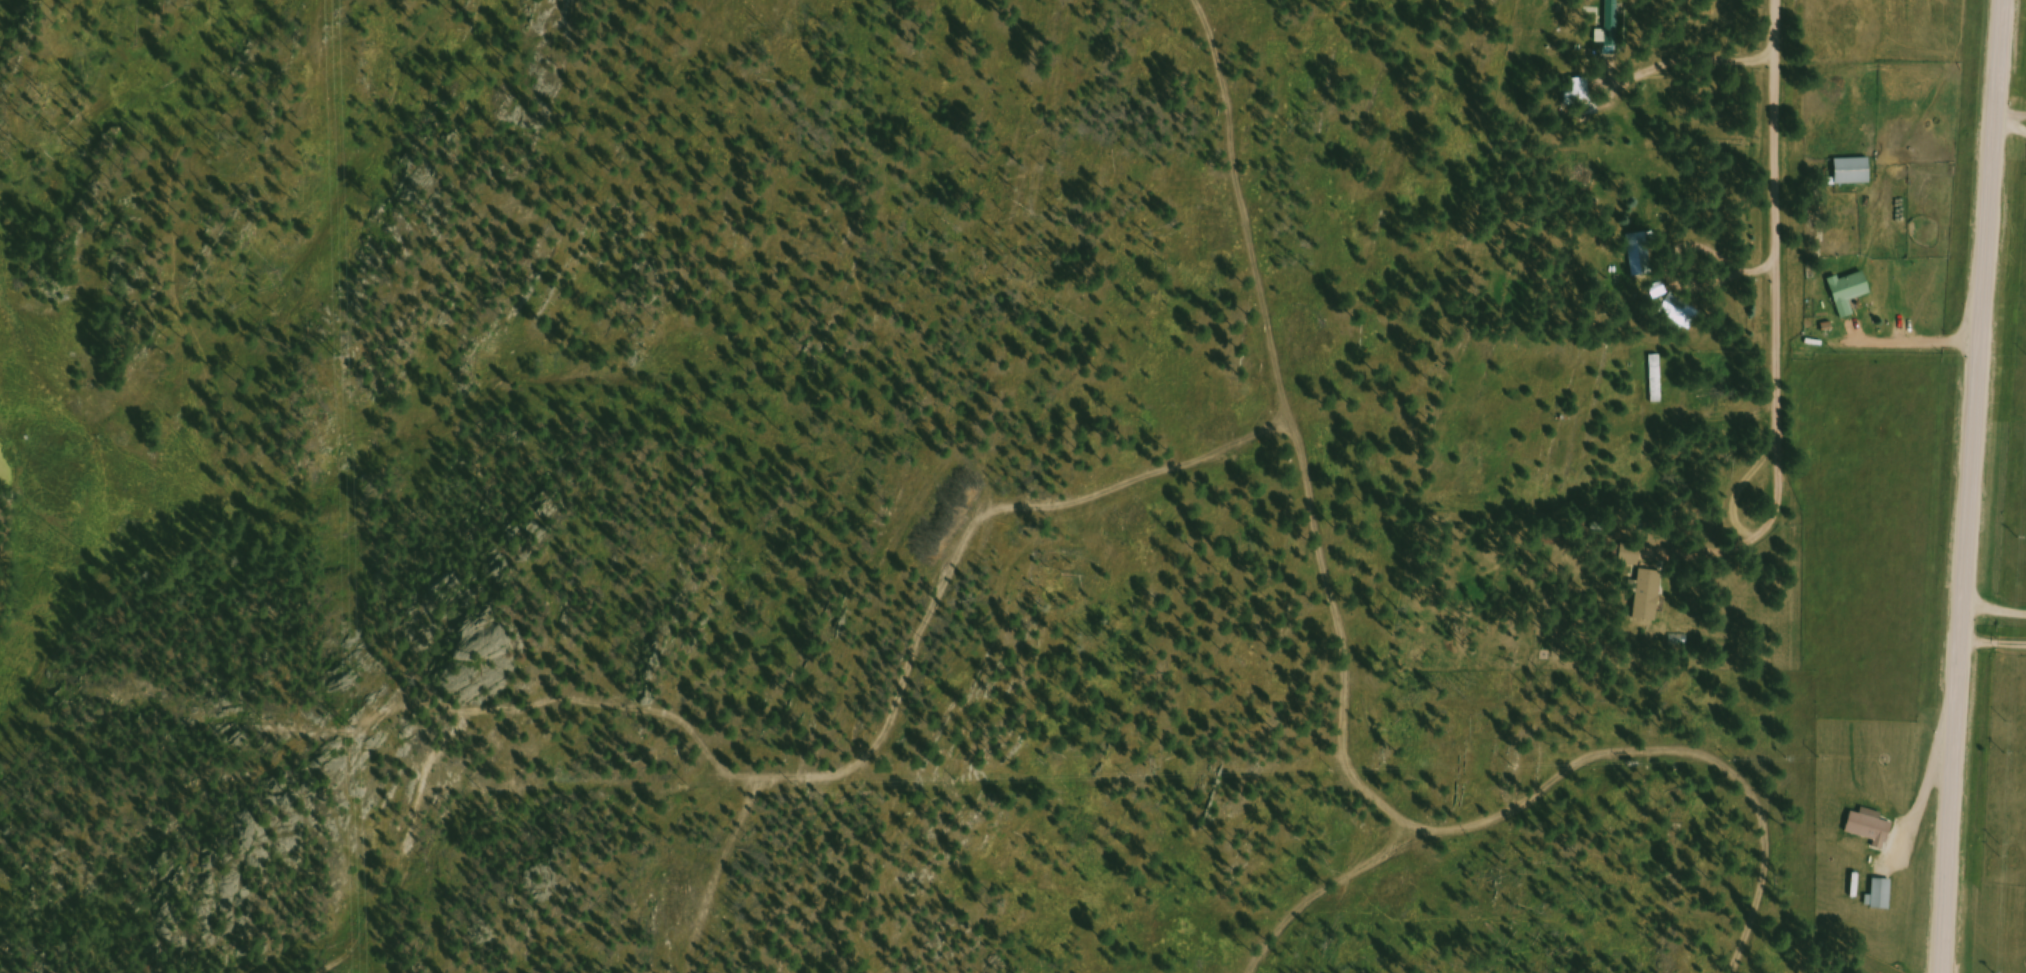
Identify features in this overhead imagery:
building: (1576, 93)
building: (1855, 173)
road: (1789, 227)
building: (1640, 258)
building: (1852, 293)
road: (2004, 301)
building: (1658, 381)
road: (1972, 486)
building: (1631, 557)
building: (1650, 596)
road: (1995, 610)
building: (1872, 829)
building: (1884, 896)

